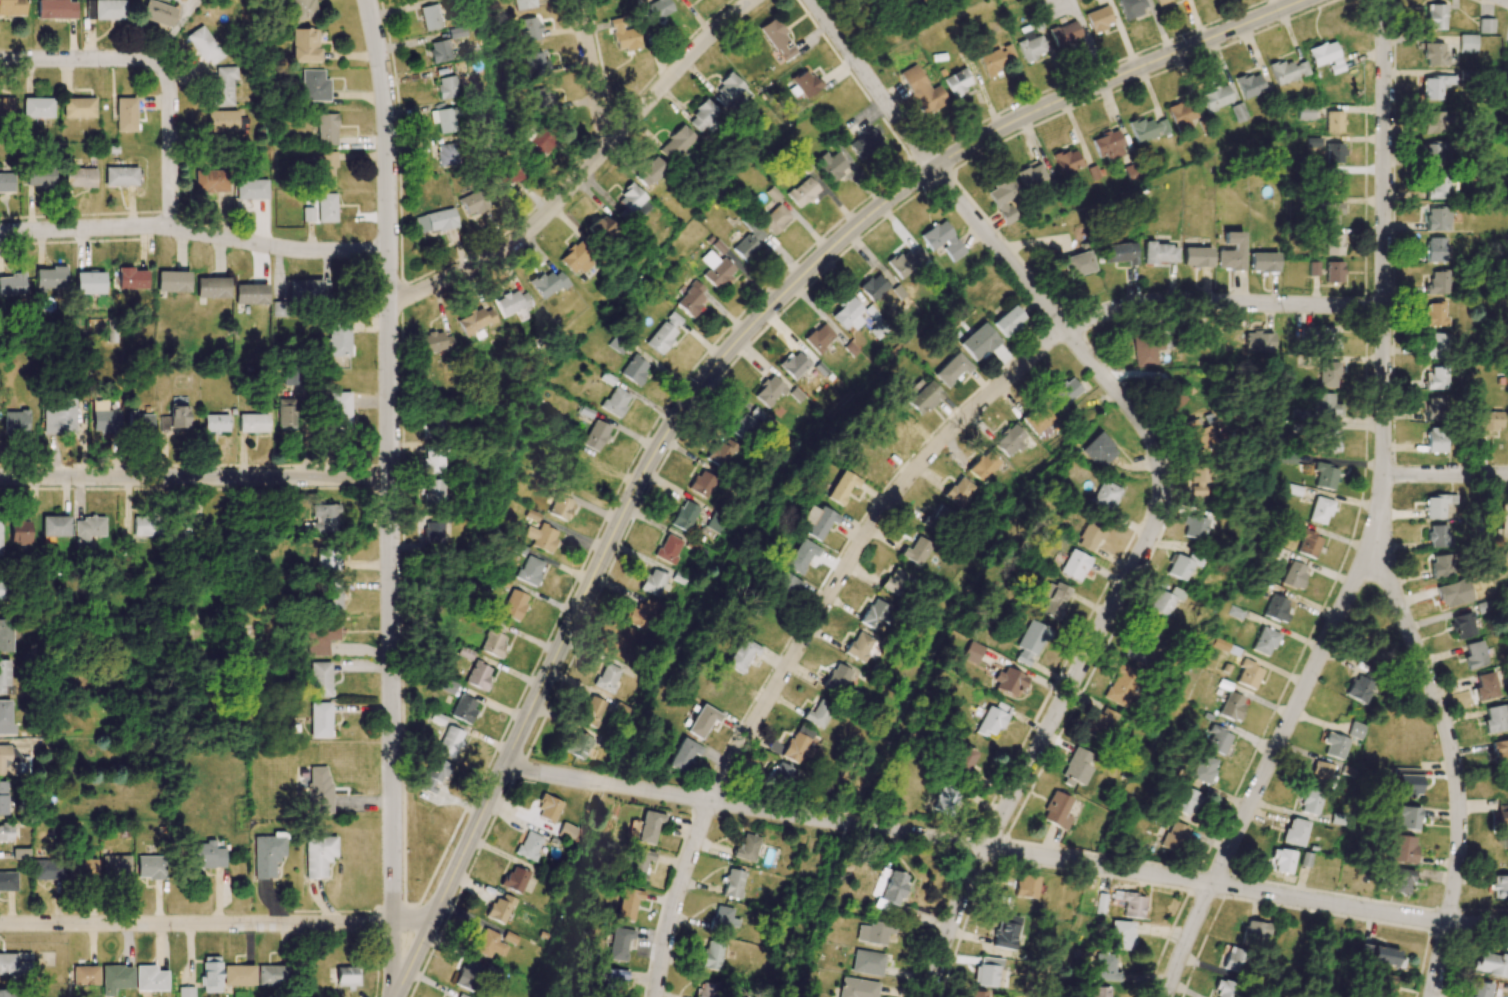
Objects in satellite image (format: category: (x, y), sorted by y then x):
building: (845, 0)
road: (1507, 0)
building: (1162, 2)
building: (524, 4)
building: (12, 7)
building: (1132, 7)
building: (56, 9)
building: (105, 9)
building: (301, 9)
building: (656, 9)
building: (157, 12)
building: (1435, 16)
building: (430, 17)
building: (1099, 18)
building: (1486, 25)
building: (530, 29)
building: (1065, 33)
building: (624, 36)
building: (778, 39)
building: (1468, 43)
building: (203, 45)
building: (304, 45)
building: (1030, 46)
building: (439, 51)
building: (1507, 51)
building: (1435, 54)
building: (1326, 56)
road: (83, 58)
building: (997, 59)
building: (536, 63)
building: (1301, 68)
building: (1283, 72)
road: (593, 74)
building: (957, 82)
building: (805, 83)
building: (1250, 85)
building: (222, 86)
building: (313, 86)
building: (1434, 86)
building: (447, 87)
building: (729, 89)
building: (922, 90)
building: (1216, 97)
building: (543, 101)
building: (6, 107)
building: (78, 107)
building: (38, 108)
building: (1238, 112)
building: (1305, 112)
building: (125, 114)
building: (1181, 114)
building: (444, 118)
building: (704, 118)
building: (222, 121)
building: (1334, 121)
building: (1435, 122)
building: (1161, 126)
building: (326, 129)
building: (1142, 129)
building: (540, 143)
building: (675, 143)
building: (864, 143)
building: (1108, 145)
road: (170, 149)
building: (1334, 153)
building: (1431, 153)
building: (446, 154)
building: (1067, 161)
building: (831, 165)
building: (325, 168)
road: (585, 172)
building: (650, 172)
building: (508, 175)
building: (1031, 175)
building: (39, 176)
building: (120, 176)
building: (79, 177)
building: (6, 181)
building: (211, 181)
building: (1336, 181)
building: (1438, 188)
building: (251, 189)
building: (803, 192)
building: (1004, 200)
building: (473, 202)
building: (633, 203)
building: (326, 207)
building: (1331, 212)
building: (308, 214)
building: (776, 218)
building: (1438, 218)
building: (435, 221)
building: (602, 228)
road: (194, 232)
building: (942, 240)
building: (1333, 244)
building: (745, 247)
building: (1436, 249)
building: (1231, 252)
building: (1120, 253)
building: (1160, 253)
building: (1196, 257)
building: (576, 258)
building: (1263, 262)
building: (909, 263)
building: (1079, 264)
building: (1313, 268)
building: (716, 269)
building: (1334, 272)
building: (50, 277)
building: (132, 278)
building: (172, 281)
building: (1438, 282)
building: (89, 283)
building: (547, 283)
building: (12, 284)
building: (212, 287)
building: (873, 287)
building: (305, 290)
building: (250, 294)
building: (691, 299)
building: (512, 302)
road: (1222, 302)
building: (848, 314)
building: (1437, 314)
building: (475, 320)
building: (1008, 321)
building: (664, 333)
building: (819, 337)
building: (1322, 337)
building: (338, 339)
building: (434, 342)
building: (978, 342)
building: (1258, 342)
road: (735, 343)
building: (1437, 345)
building: (1149, 347)
building: (794, 364)
building: (634, 369)
building: (951, 369)
building: (1328, 374)
building: (292, 378)
building: (1437, 378)
building: (769, 391)
building: (1065, 392)
building: (924, 396)
building: (1172, 399)
building: (615, 401)
building: (1326, 405)
building: (340, 408)
building: (1435, 408)
building: (285, 414)
building: (59, 417)
building: (103, 418)
building: (175, 419)
building: (1039, 419)
building: (1489, 421)
building: (14, 422)
building: (139, 423)
building: (215, 423)
building: (252, 423)
building: (746, 423)
building: (896, 423)
building: (432, 426)
building: (595, 435)
building: (1195, 437)
building: (1435, 439)
building: (1010, 440)
building: (1330, 440)
building: (1097, 450)
building: (723, 454)
building: (431, 461)
road: (389, 463)
building: (983, 466)
road: (1159, 466)
road: (1445, 474)
building: (1325, 476)
road: (195, 477)
building: (1198, 480)
building: (702, 483)
building: (841, 487)
building: (1292, 489)
building: (958, 491)
building: (432, 492)
building: (1103, 497)
building: (561, 504)
building: (1437, 505)
building: (1320, 510)
building: (685, 516)
building: (938, 518)
building: (322, 519)
building: (818, 521)
road: (1379, 522)
building: (144, 524)
building: (716, 524)
building: (55, 526)
building: (183, 526)
building: (1195, 527)
building: (88, 529)
building: (19, 531)
building: (432, 532)
building: (1090, 534)
building: (1438, 534)
building: (541, 537)
building: (0, 540)
building: (1308, 543)
building: (669, 548)
building: (916, 550)
building: (801, 555)
building: (328, 558)
building: (1074, 565)
building: (1440, 565)
building: (1178, 567)
building: (530, 570)
building: (1293, 575)
building: (897, 581)
building: (654, 582)
building: (785, 587)
building: (2, 590)
building: (331, 593)
building: (1455, 593)
building: (1053, 599)
building: (1163, 601)
building: (514, 604)
building: (1277, 608)
building: (640, 614)
building: (876, 614)
building: (1463, 625)
road: (808, 631)
building: (5, 635)
building: (321, 638)
building: (494, 640)
building: (1142, 641)
building: (1264, 641)
building: (1030, 642)
building: (859, 646)
building: (972, 652)
building: (742, 655)
building: (1476, 656)
building: (1248, 674)
building: (478, 675)
building: (5, 677)
building: (608, 677)
building: (837, 678)
building: (321, 679)
building: (1009, 682)
building: (1121, 684)
building: (448, 685)
building: (1486, 686)
building: (1360, 689)
building: (1231, 705)
building: (464, 708)
building: (592, 711)
building: (818, 714)
building: (5, 718)
building: (320, 719)
building: (1495, 719)
building: (992, 720)
building: (702, 721)
building: (1100, 723)
building: (1356, 730)
building: (1217, 739)
building: (450, 741)
building: (798, 744)
building: (578, 745)
building: (1335, 745)
building: (1501, 751)
building: (683, 754)
building: (8, 759)
building: (962, 759)
building: (1076, 768)
building: (1204, 768)
road: (1452, 769)
building: (1322, 773)
building: (435, 775)
building: (783, 775)
building: (1408, 784)
building: (319, 789)
building: (2, 797)
building: (945, 801)
building: (1187, 801)
building: (1311, 801)
building: (547, 808)
building: (1056, 810)
building: (1408, 817)
building: (1503, 823)
building: (648, 826)
building: (567, 831)
building: (6, 832)
building: (1295, 832)
building: (1174, 836)
building: (529, 845)
building: (747, 848)
building: (1403, 849)
road: (1005, 850)
building: (20, 853)
building: (267, 854)
building: (206, 855)
building: (318, 855)
building: (1281, 860)
building: (640, 865)
building: (116, 866)
building: (150, 867)
building: (48, 869)
building: (82, 869)
building: (515, 879)
building: (1399, 879)
building: (7, 881)
building: (733, 883)
building: (1026, 886)
building: (1499, 886)
building: (893, 887)
building: (627, 903)
building: (1100, 903)
building: (1132, 903)
building: (500, 908)
building: (723, 918)
road: (205, 924)
building: (1005, 931)
building: (1255, 931)
building: (873, 932)
building: (1121, 934)
building: (488, 943)
building: (618, 943)
building: (712, 955)
building: (1379, 955)
building: (1234, 959)
road: (402, 960)
building: (867, 962)
building: (13, 964)
building: (1106, 964)
building: (1492, 964)
building: (987, 972)
building: (210, 974)
building: (85, 975)
building: (238, 975)
building: (271, 975)
building: (469, 975)
building: (347, 976)
building: (116, 978)
building: (149, 978)
building: (613, 979)
building: (1382, 986)
building: (856, 988)
building: (708, 989)
building: (1479, 989)
building: (185, 991)
building: (1225, 991)
building: (2, 992)
building: (977, 994)
building: (462, 995)
building: (1102, 995)

